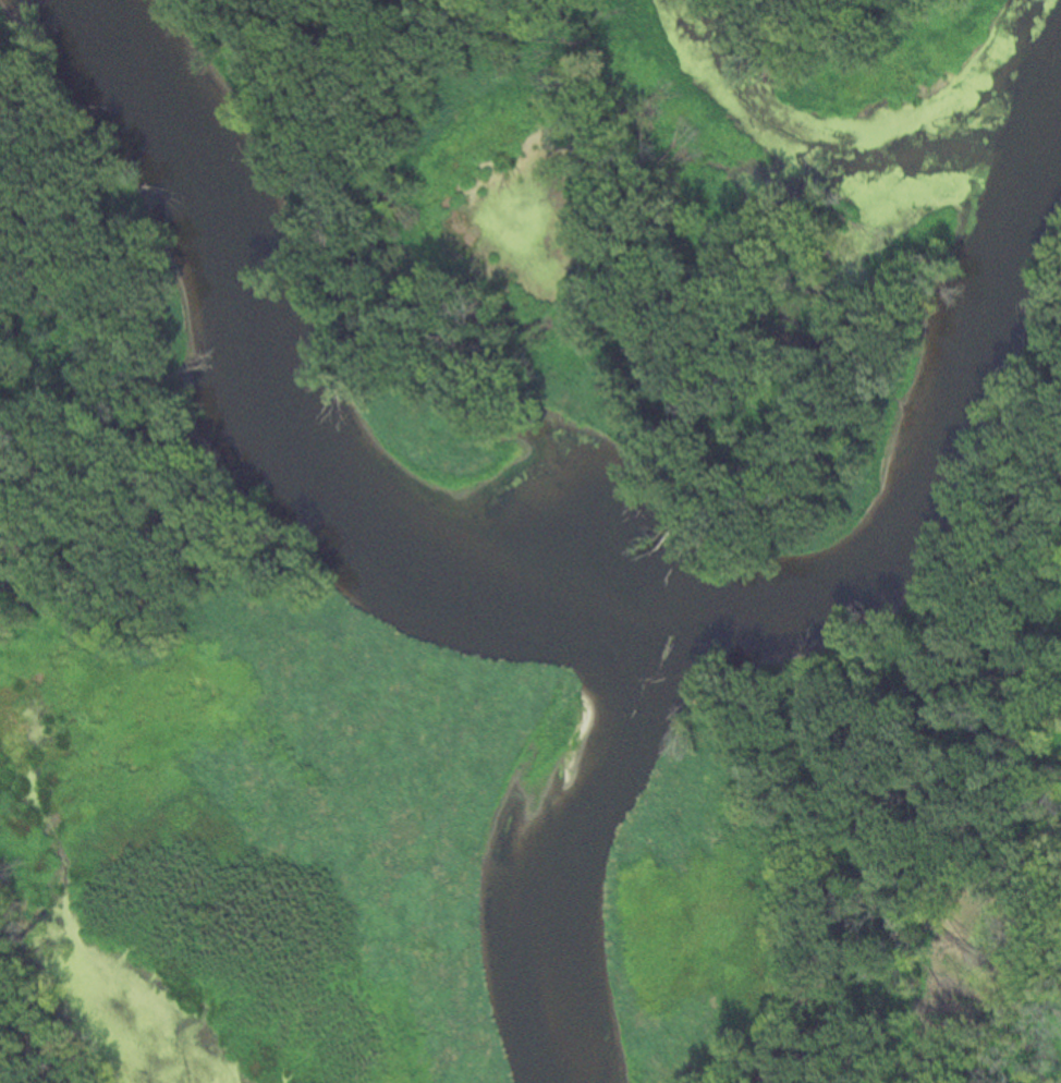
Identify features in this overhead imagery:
river: (267, 415)

